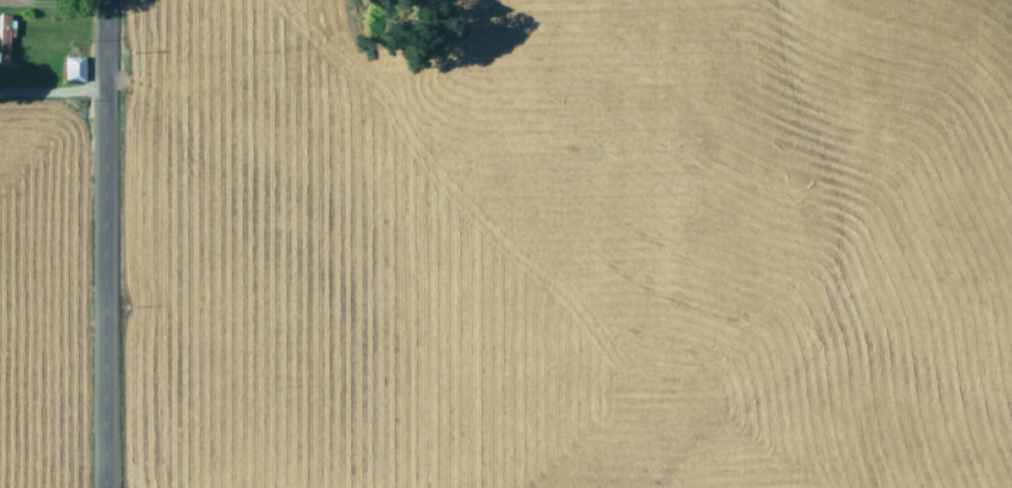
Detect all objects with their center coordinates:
building: (4, 33)
building: (72, 68)
road: (51, 90)
road: (103, 244)

